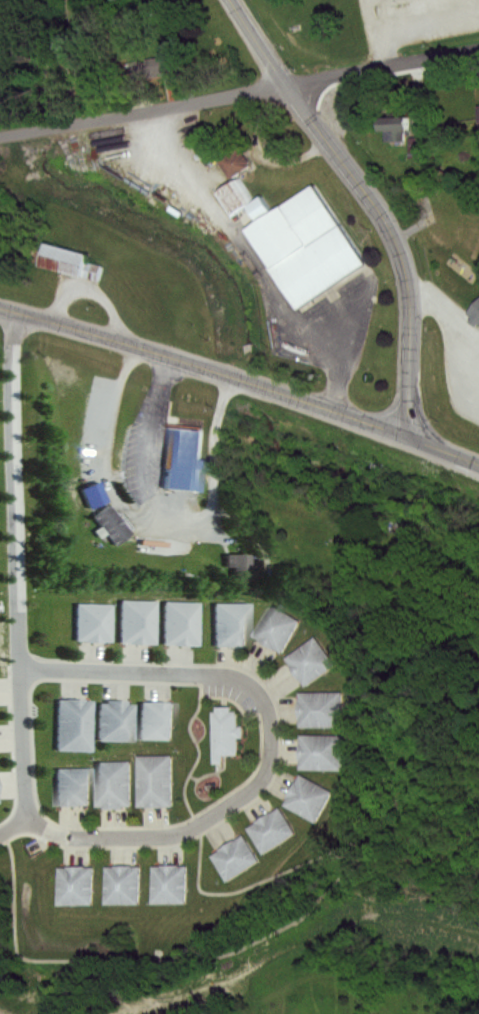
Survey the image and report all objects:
road: (428, 21)
parking lot: (416, 30)
park: (363, 34)
road: (377, 34)
building: (159, 65)
road: (239, 92)
building: (401, 125)
road: (372, 200)
building: (304, 249)
building: (72, 261)
building: (473, 308)
road: (448, 319)
road: (241, 380)
road: (143, 442)
parking lot: (146, 443)
building: (182, 453)
building: (93, 493)
building: (110, 523)
road: (148, 527)
building: (241, 565)
building: (92, 620)
building: (136, 620)
building: (180, 623)
building: (230, 623)
building: (278, 628)
building: (313, 661)
building: (321, 710)
building: (115, 720)
building: (156, 721)
building: (73, 722)
building: (227, 732)
road: (197, 746)
building: (323, 753)
building: (157, 780)
building: (114, 783)
building: (73, 786)
building: (311, 800)
road: (14, 824)
building: (272, 830)
road: (65, 833)
building: (236, 857)
park: (312, 874)
building: (125, 884)
building: (77, 885)
building: (171, 885)
road: (234, 943)
road: (8, 947)
crop: (1, 1013)

